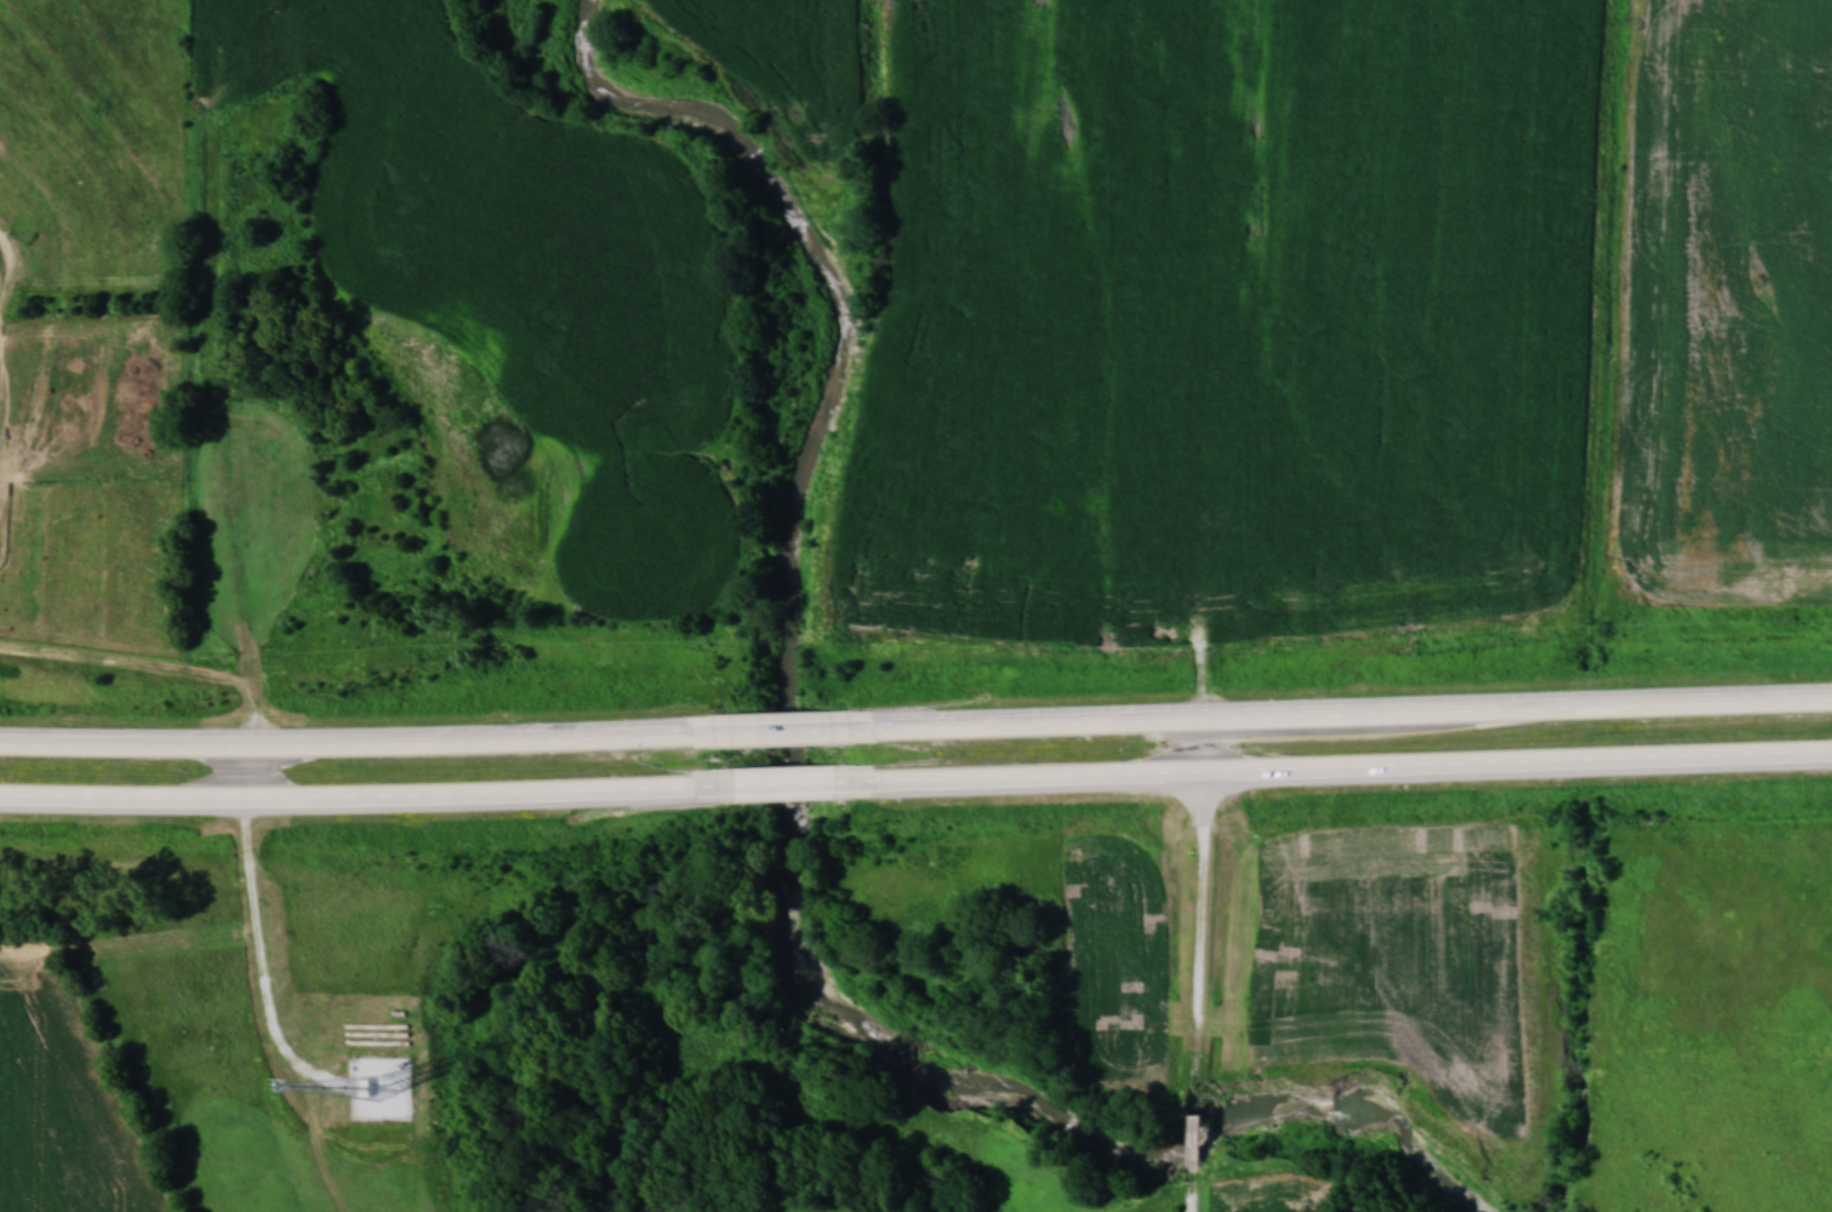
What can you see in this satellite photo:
road: (1356, 716)
road: (784, 730)
road: (344, 745)
road: (1356, 770)
road: (784, 785)
road: (344, 801)
road: (1202, 913)
road: (1193, 1143)
road: (1191, 1196)

